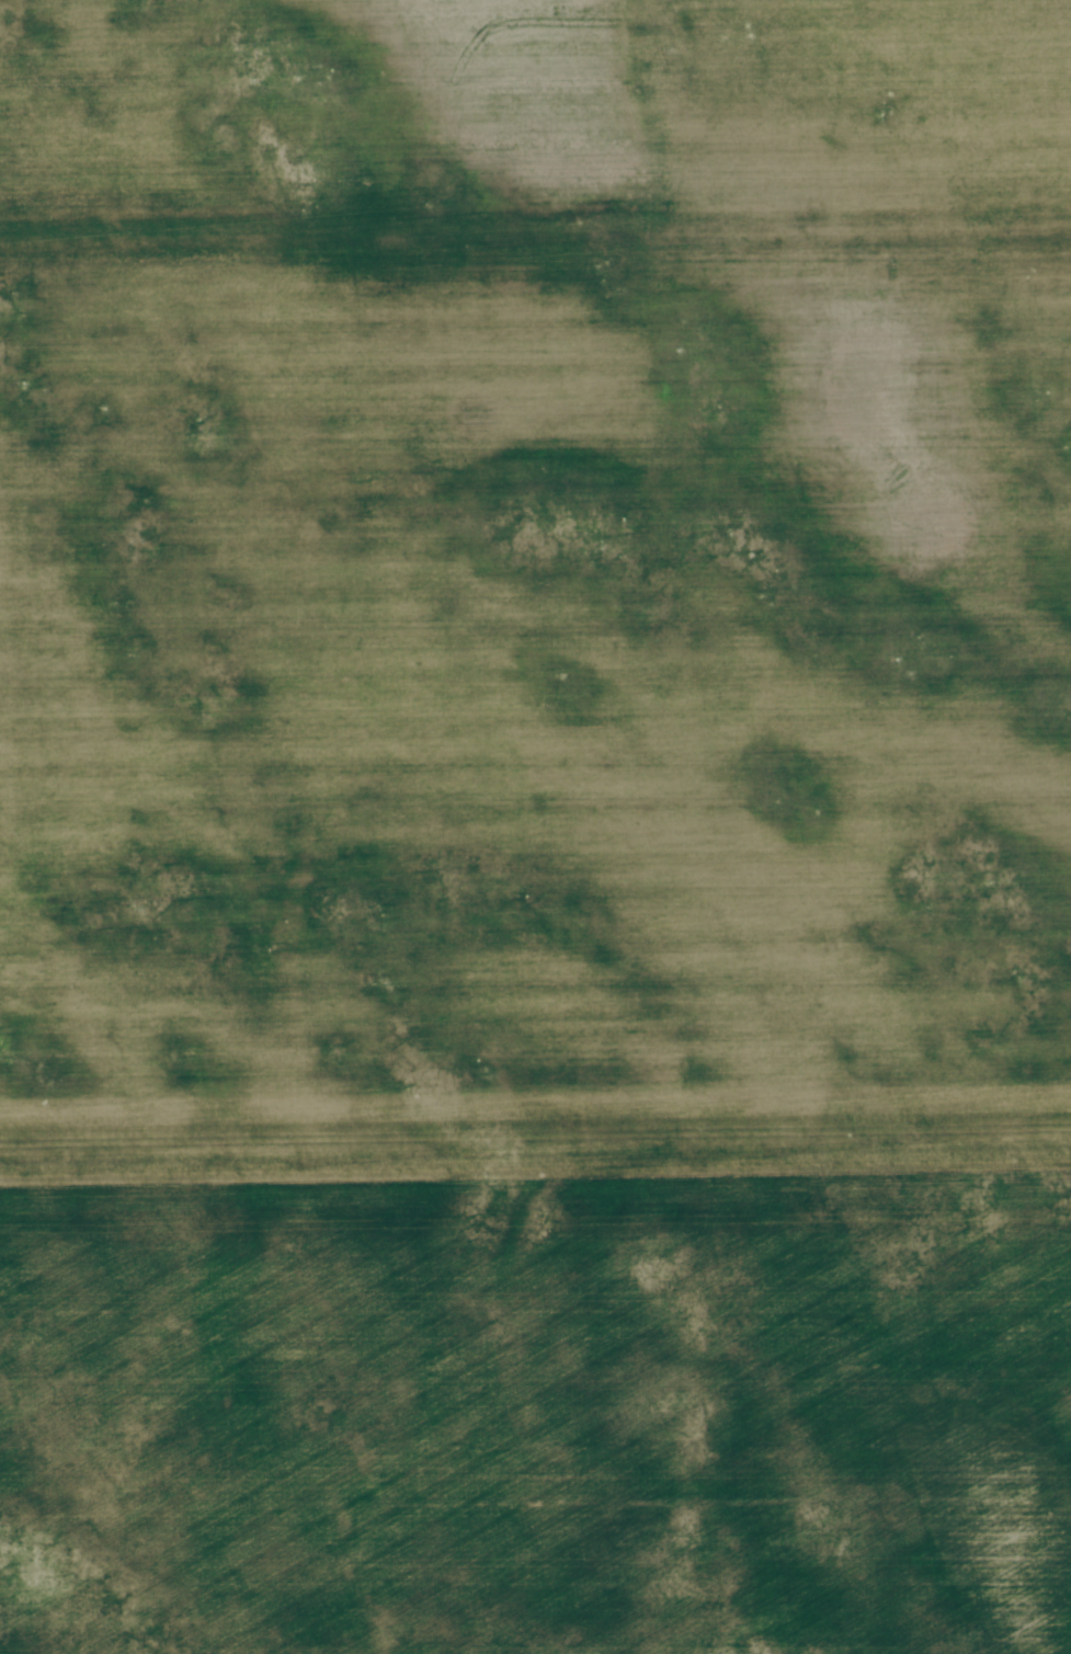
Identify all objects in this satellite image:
crop: (535, 826)

